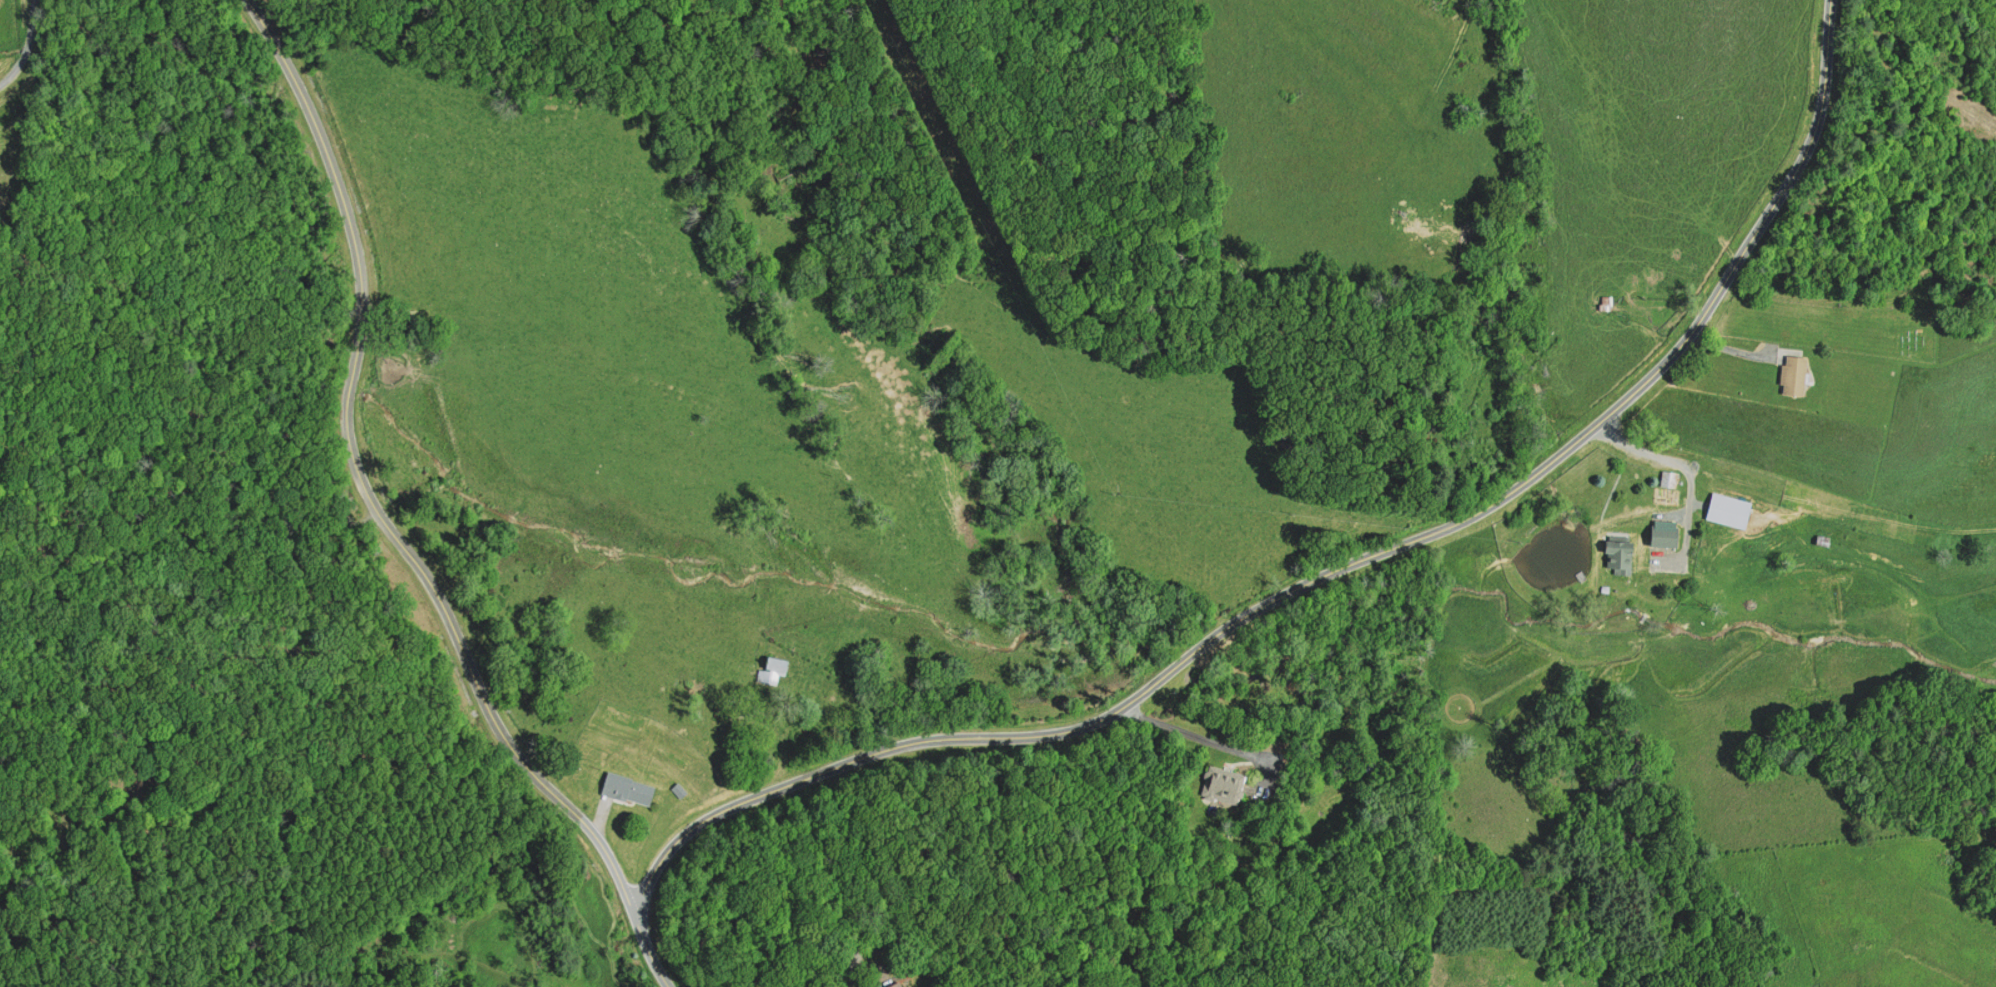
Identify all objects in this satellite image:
building: (1795, 376)
building: (1668, 480)
building: (1729, 511)
road: (386, 518)
building: (1664, 537)
building: (1618, 556)
road: (1328, 572)
building: (772, 670)
building: (1223, 785)
building: (679, 787)
building: (628, 788)
building: (896, 984)

